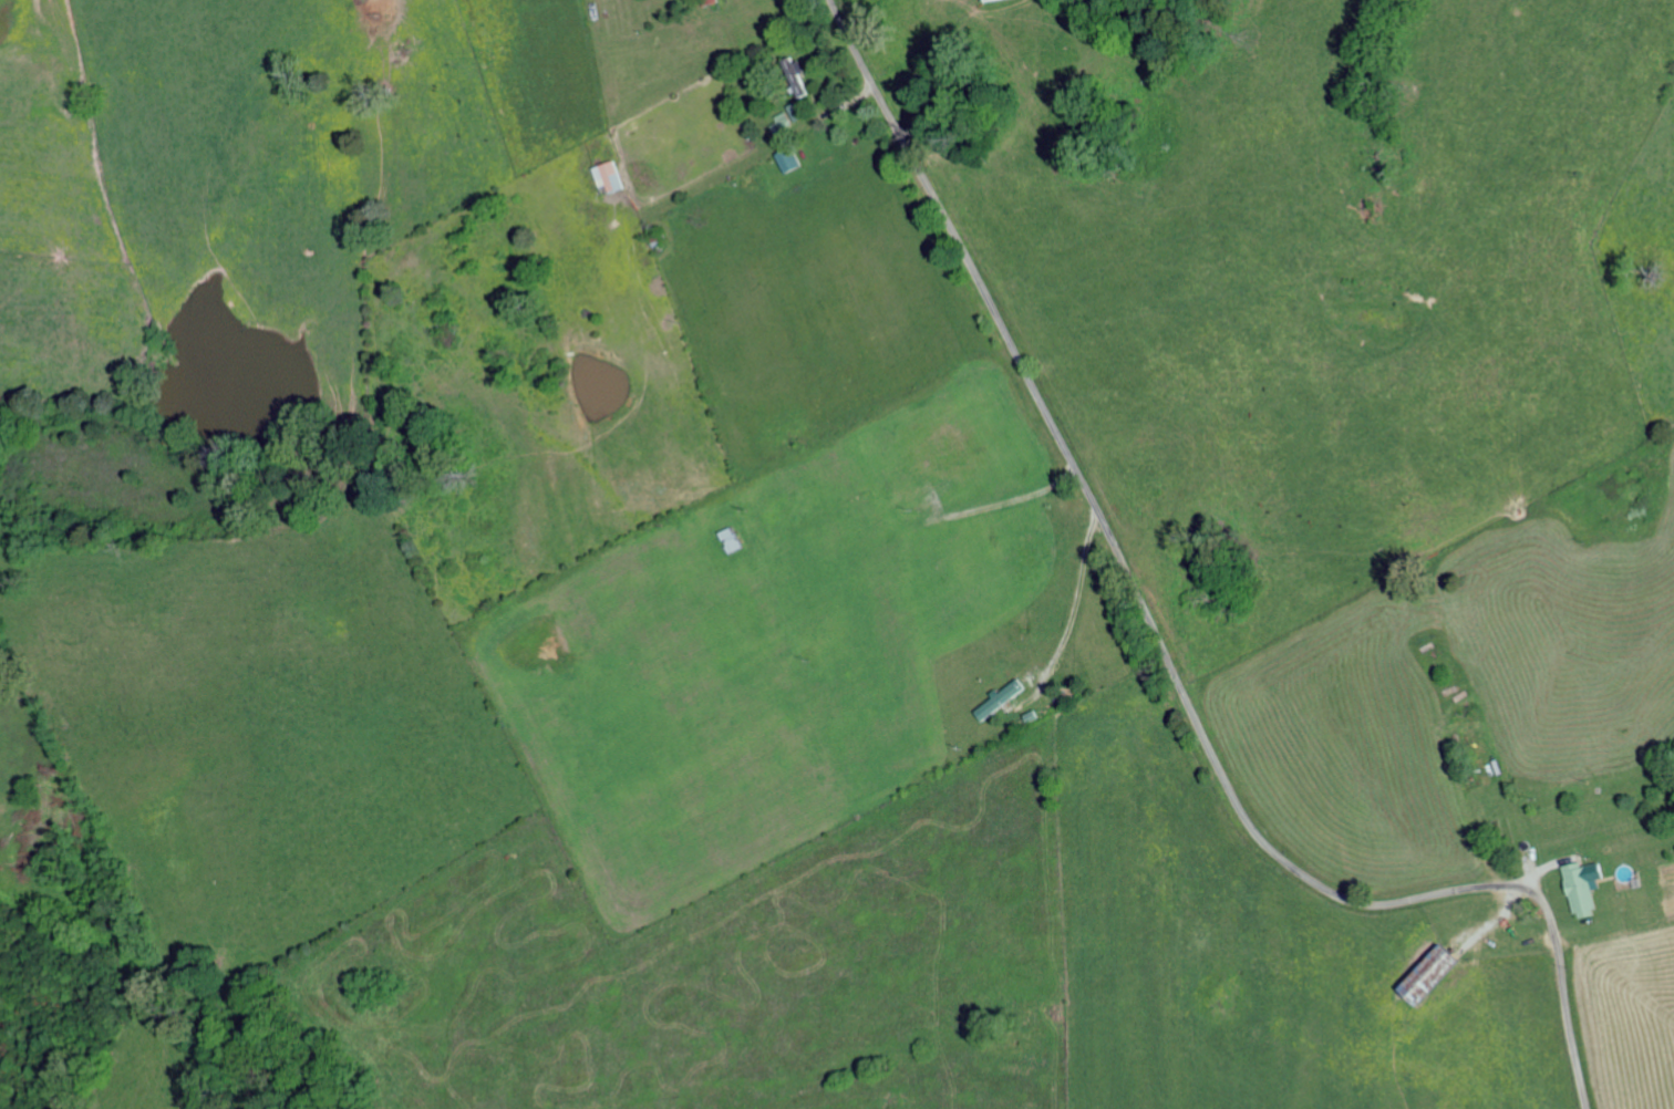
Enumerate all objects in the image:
building: (983, 0)
building: (795, 75)
building: (786, 159)
building: (606, 177)
road: (644, 314)
road: (25, 490)
road: (1161, 652)
building: (999, 696)
building: (1580, 883)
building: (1426, 973)
road: (183, 988)

